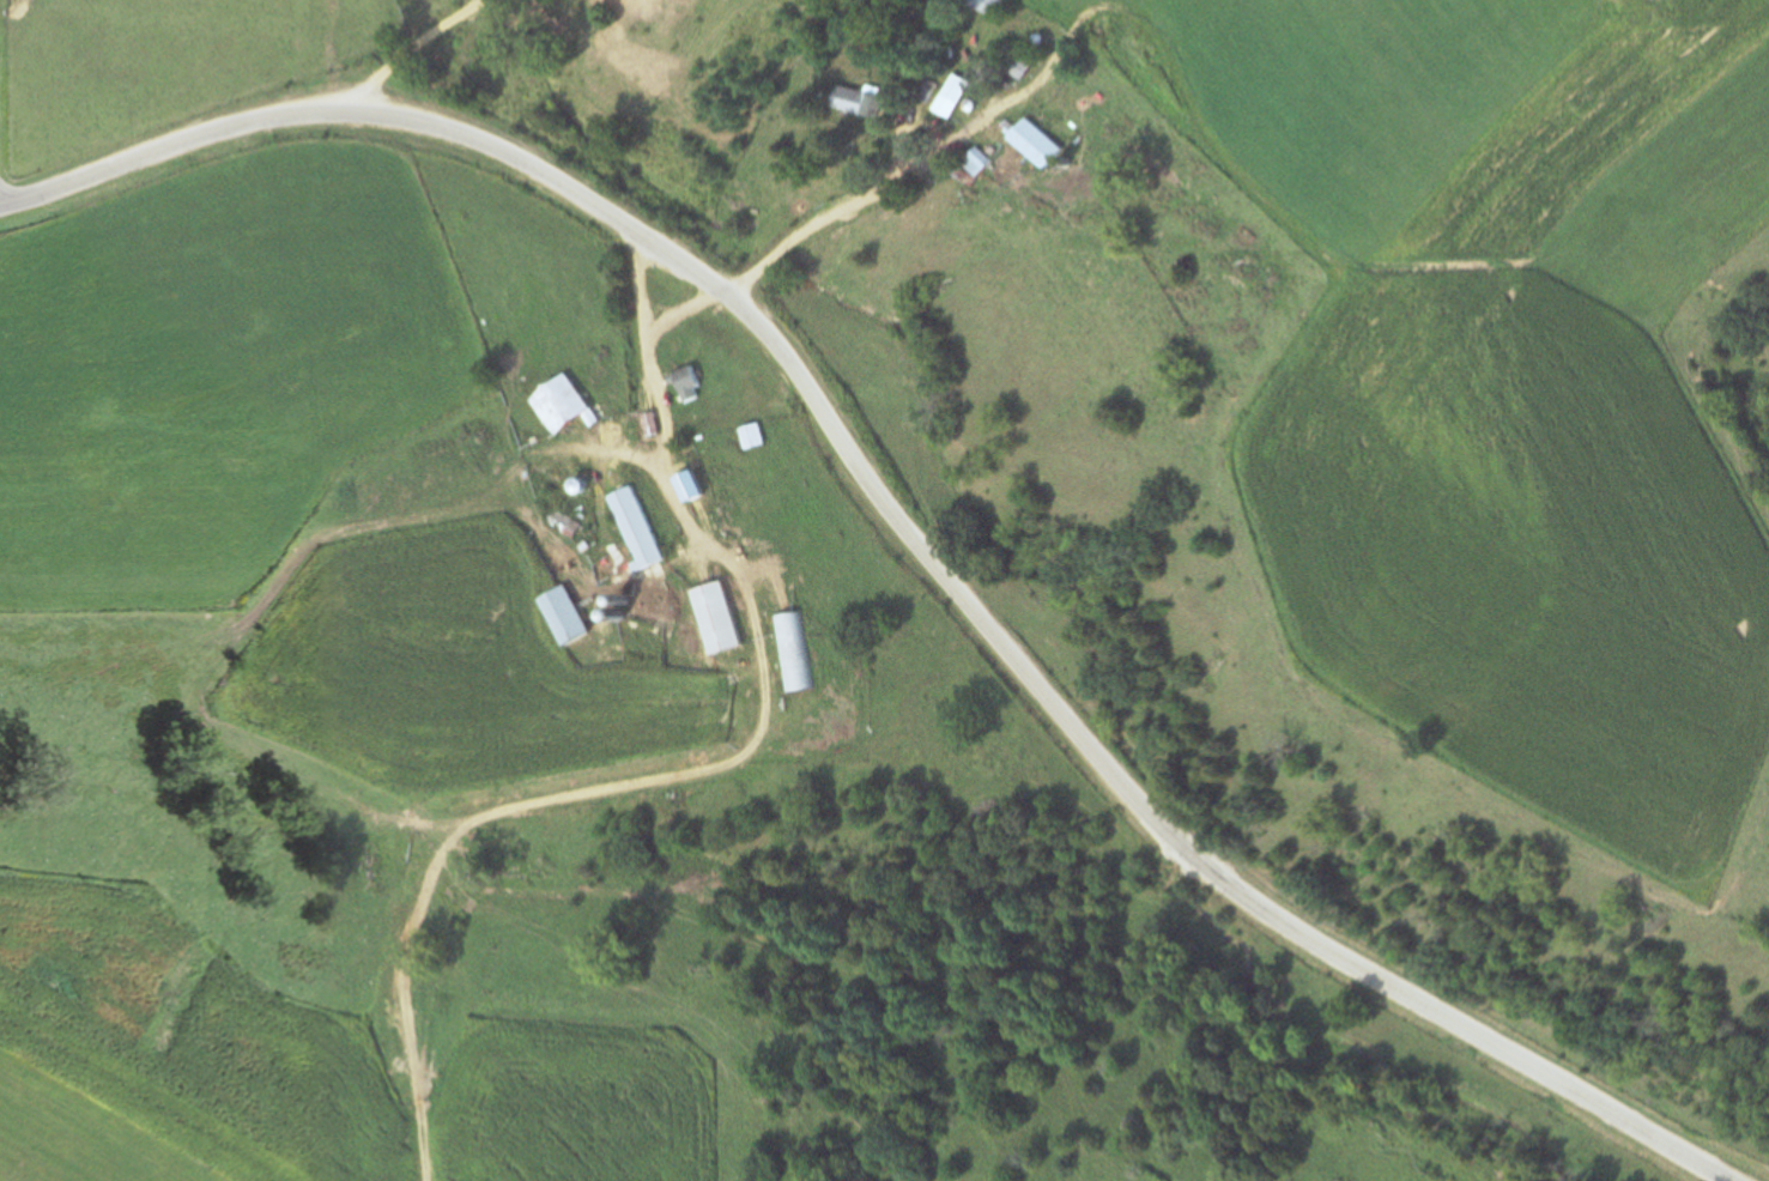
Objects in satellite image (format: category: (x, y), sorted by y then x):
building: (993, 7)
building: (1026, 66)
building: (926, 91)
building: (956, 93)
building: (853, 101)
building: (1041, 140)
building: (987, 158)
road: (913, 174)
road: (638, 328)
building: (679, 381)
building: (698, 383)
building: (550, 405)
building: (745, 434)
building: (759, 436)
road: (660, 447)
road: (895, 522)
building: (623, 526)
building: (641, 528)
building: (551, 612)
building: (698, 613)
building: (574, 614)
building: (727, 618)
building: (780, 648)
building: (801, 653)
road: (529, 804)

